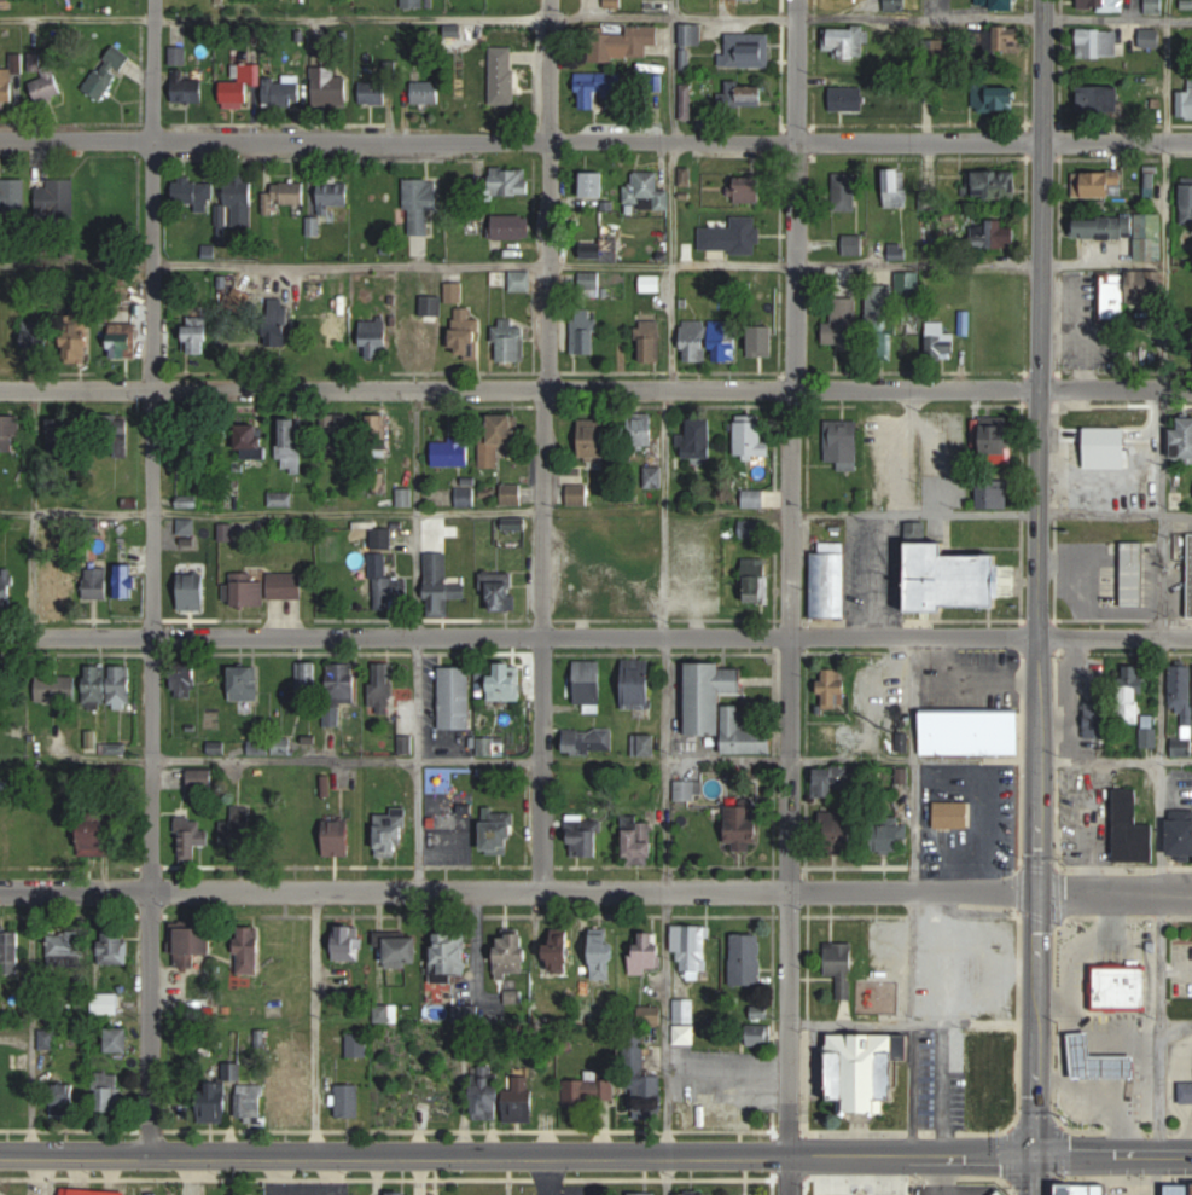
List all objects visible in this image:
building: (413, 4)
building: (998, 4)
building: (1109, 4)
building: (895, 5)
building: (1155, 6)
road: (675, 10)
road: (1116, 17)
road: (521, 19)
building: (1004, 40)
building: (622, 41)
building: (847, 41)
building: (1098, 42)
building: (746, 50)
building: (179, 56)
building: (114, 65)
building: (504, 75)
building: (11, 77)
building: (50, 85)
building: (242, 86)
building: (287, 86)
building: (330, 86)
building: (598, 87)
building: (187, 88)
building: (426, 91)
building: (372, 93)
building: (745, 93)
building: (849, 98)
building: (996, 98)
building: (1100, 98)
building: (686, 101)
building: (1186, 103)
building: (897, 104)
road: (595, 140)
building: (594, 180)
building: (510, 182)
building: (647, 184)
building: (992, 184)
building: (1101, 184)
building: (896, 187)
building: (845, 191)
building: (751, 192)
building: (335, 195)
building: (57, 196)
building: (193, 196)
building: (284, 196)
building: (12, 197)
building: (1187, 199)
building: (238, 203)
building: (419, 207)
building: (1105, 226)
building: (511, 227)
building: (994, 234)
building: (732, 236)
building: (594, 249)
building: (896, 250)
road: (597, 263)
road: (1104, 263)
road: (1165, 265)
building: (521, 280)
building: (589, 284)
building: (651, 284)
building: (1149, 284)
building: (1112, 295)
building: (847, 314)
building: (880, 321)
building: (278, 323)
building: (425, 326)
building: (337, 329)
building: (585, 332)
building: (466, 335)
building: (197, 336)
building: (24, 337)
building: (79, 337)
building: (374, 338)
building: (941, 340)
building: (123, 341)
building: (511, 341)
building: (710, 341)
building: (651, 342)
road: (595, 388)
building: (342, 428)
building: (377, 428)
building: (401, 428)
building: (642, 430)
building: (11, 435)
building: (118, 436)
building: (1145, 436)
building: (698, 437)
building: (751, 437)
building: (498, 439)
building: (594, 439)
building: (843, 440)
building: (999, 440)
building: (251, 441)
building: (1182, 441)
building: (64, 443)
road: (792, 443)
building: (291, 445)
road: (546, 445)
building: (1081, 451)
building: (452, 452)
building: (653, 477)
building: (1094, 488)
building: (512, 494)
building: (578, 494)
building: (995, 497)
building: (284, 499)
building: (754, 499)
road: (1057, 509)
road: (595, 514)
building: (514, 524)
building: (187, 526)
building: (751, 529)
building: (380, 539)
building: (1134, 574)
building: (1191, 574)
road: (151, 575)
road: (1040, 578)
building: (756, 580)
building: (956, 580)
building: (126, 581)
building: (830, 585)
building: (95, 586)
building: (388, 586)
building: (441, 586)
building: (264, 588)
building: (6, 590)
building: (58, 590)
building: (500, 590)
building: (193, 592)
road: (595, 637)
road: (665, 648)
building: (307, 681)
building: (505, 683)
building: (121, 684)
building: (185, 684)
building: (245, 684)
building: (343, 684)
building: (638, 684)
building: (95, 685)
building: (588, 686)
building: (380, 688)
building: (835, 688)
building: (56, 689)
building: (711, 696)
road: (914, 697)
road: (1074, 697)
road: (1159, 697)
building: (455, 698)
building: (1136, 703)
building: (1098, 720)
building: (972, 732)
building: (745, 735)
building: (836, 737)
building: (588, 741)
building: (644, 744)
building: (258, 747)
road: (1115, 758)
road: (471, 759)
road: (976, 759)
road: (421, 760)
road: (914, 762)
building: (202, 779)
building: (833, 782)
building: (688, 789)
building: (953, 814)
road: (1158, 825)
building: (744, 828)
building: (839, 829)
building: (242, 830)
building: (499, 830)
building: (1133, 830)
building: (1181, 833)
building: (391, 834)
building: (190, 836)
building: (97, 839)
building: (338, 839)
building: (585, 839)
building: (895, 839)
building: (640, 845)
road: (595, 889)
building: (64, 946)
building: (114, 946)
building: (192, 946)
road: (1077, 947)
building: (348, 949)
building: (691, 949)
building: (249, 951)
building: (559, 951)
building: (10, 952)
building: (512, 952)
building: (649, 952)
building: (403, 953)
building: (606, 955)
building: (450, 957)
building: (746, 959)
road: (1159, 962)
building: (843, 967)
building: (1122, 986)
building: (106, 1002)
building: (651, 1014)
road: (789, 1021)
road: (315, 1023)
road: (911, 1025)
road: (913, 1025)
road: (1165, 1027)
building: (685, 1034)
road: (1059, 1034)
building: (117, 1038)
building: (357, 1044)
building: (982, 1048)
road: (1140, 1055)
building: (1122, 1065)
building: (867, 1069)
road: (726, 1071)
building: (642, 1075)
building: (5, 1087)
road: (1076, 1087)
building: (591, 1089)
building: (1186, 1091)
building: (111, 1096)
building: (63, 1098)
road: (1170, 1098)
building: (215, 1101)
building: (348, 1101)
building: (287, 1102)
building: (250, 1103)
building: (500, 1103)
road: (1111, 1155)
road: (516, 1156)
road: (552, 1171)
road: (665, 1174)
road: (790, 1174)
road: (1031, 1174)
road: (571, 1187)
building: (1085, 1188)
building: (1180, 1188)
road: (552, 1190)
building: (97, 1191)
building: (399, 1193)
building: (638, 1193)
building: (694, 1193)

